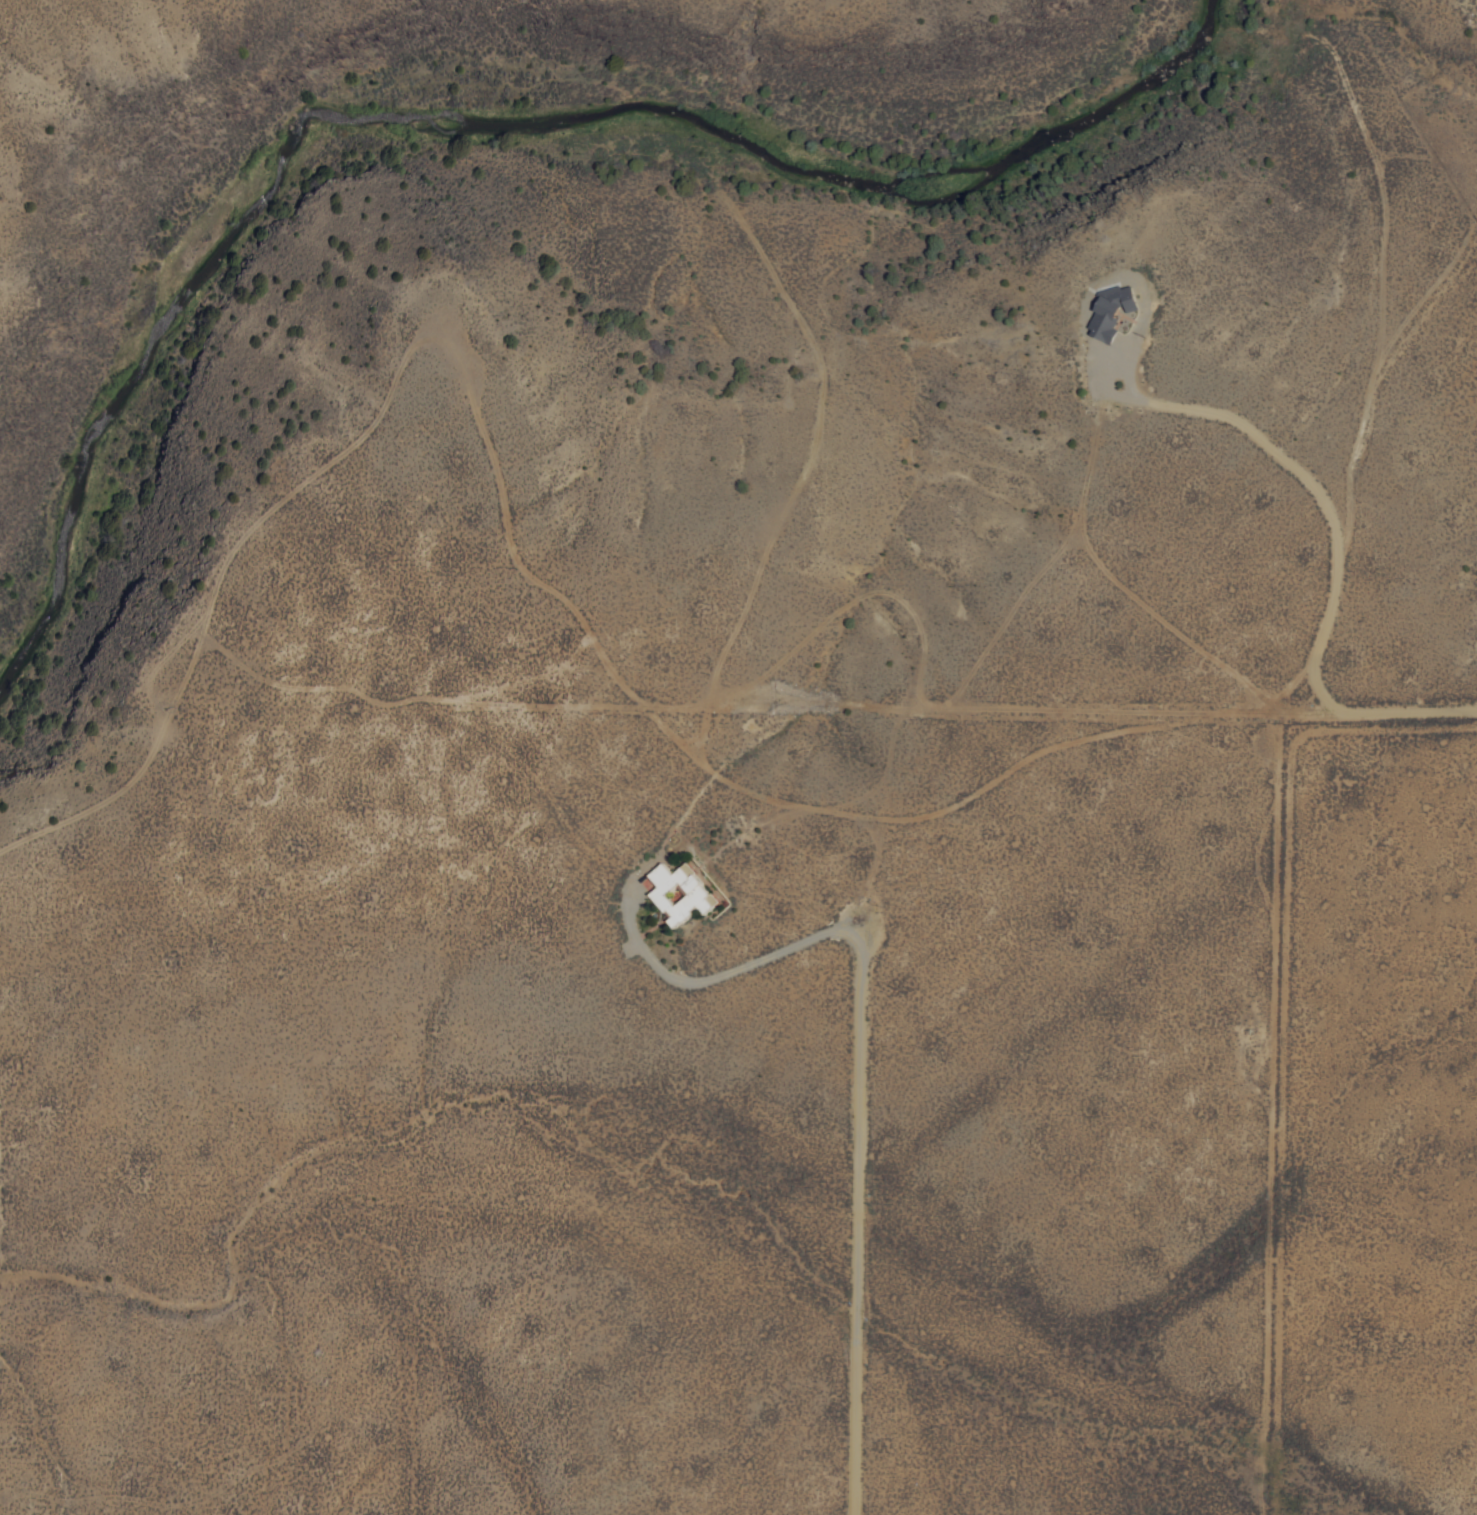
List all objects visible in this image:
road: (1340, 571)
building: (682, 892)
road: (860, 1219)

